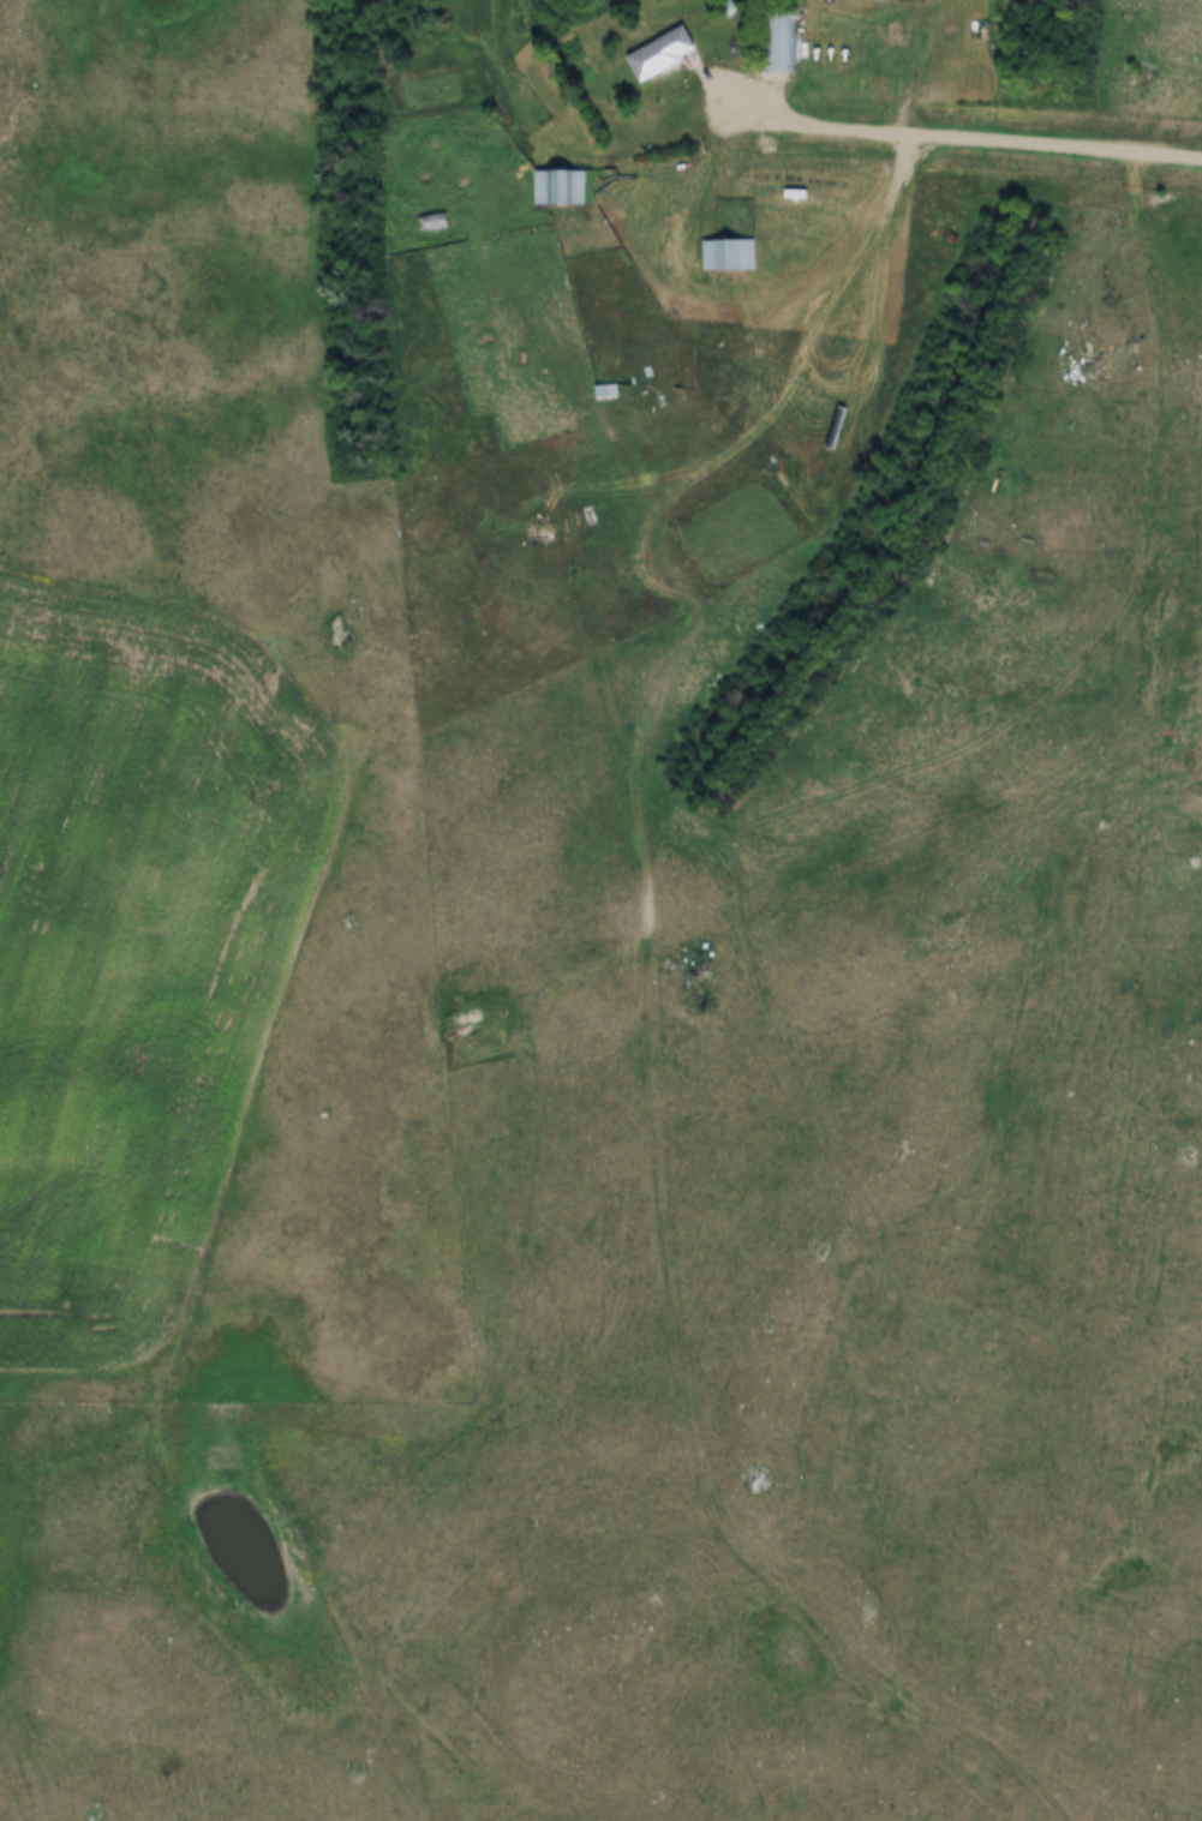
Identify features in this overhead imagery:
building: (802, 0)
building: (778, 40)
building: (660, 53)
road: (953, 137)
building: (558, 187)
building: (432, 223)
building: (729, 254)
building: (605, 393)

